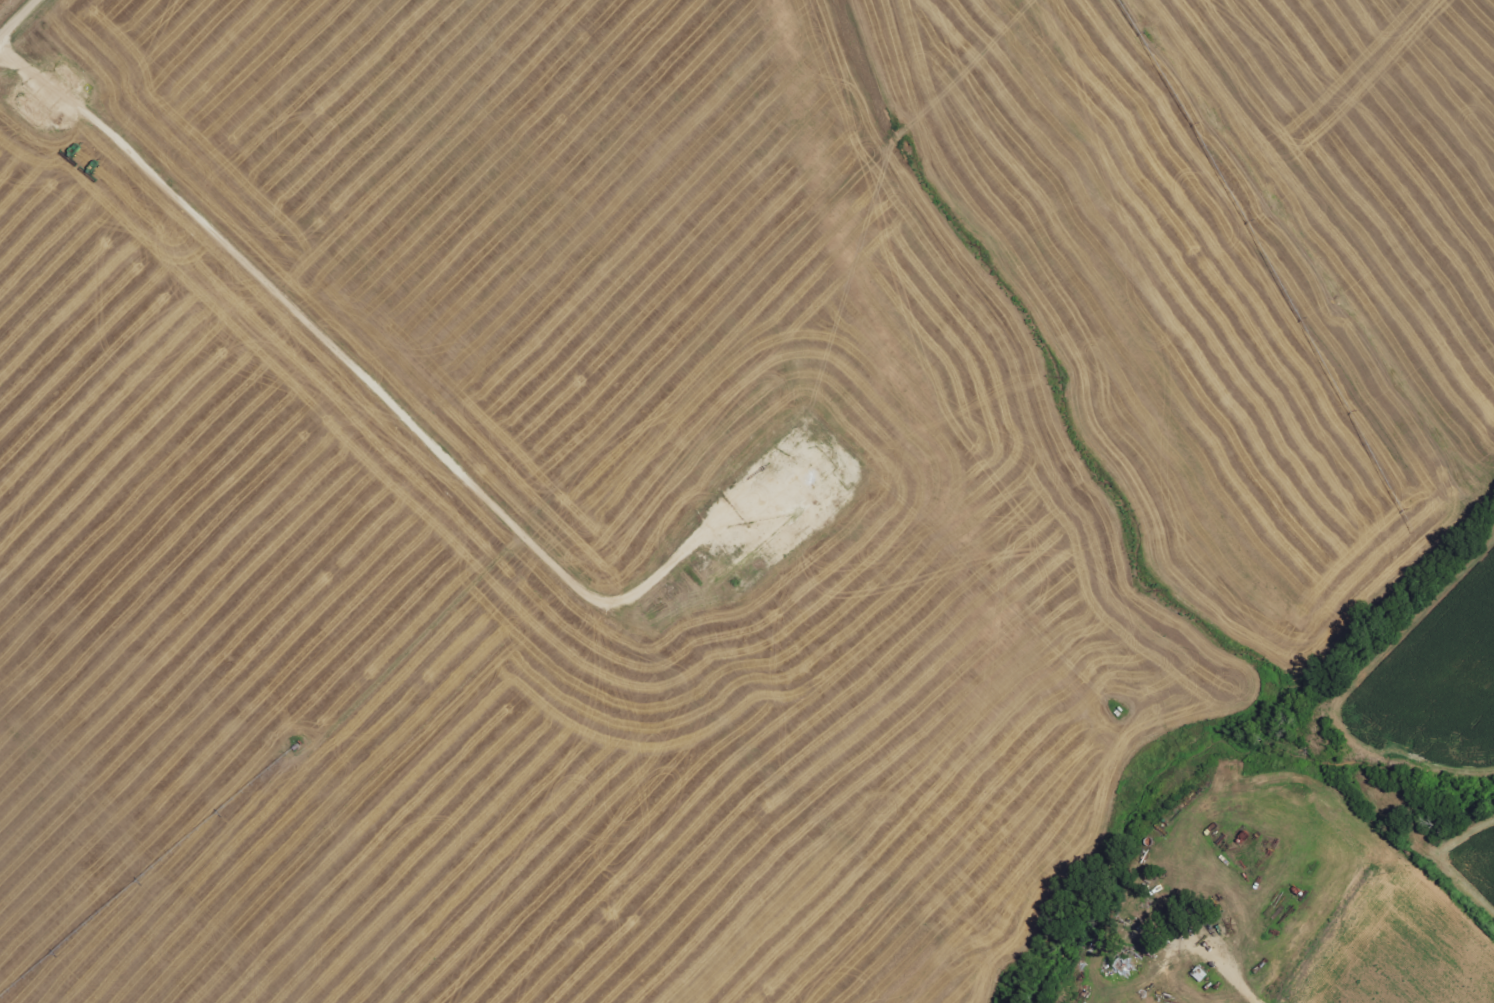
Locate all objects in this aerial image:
road: (31, 31)

